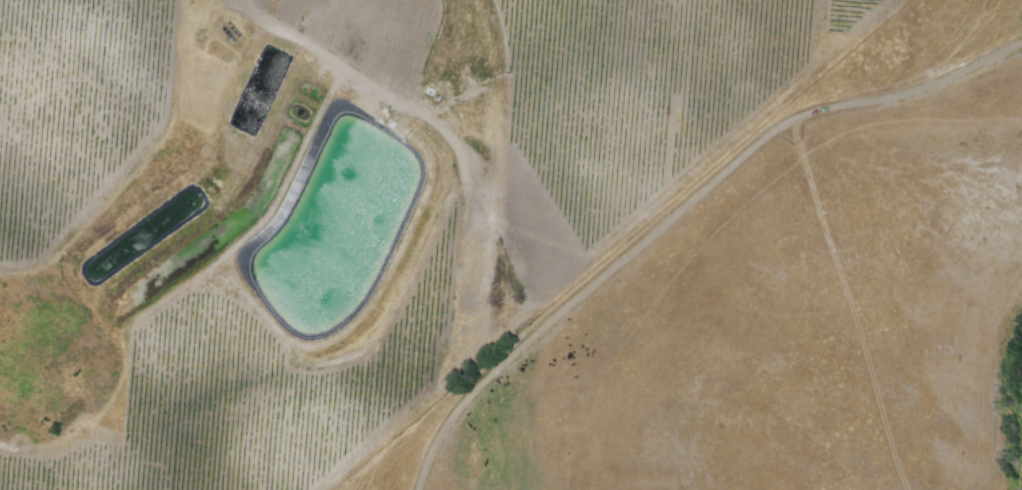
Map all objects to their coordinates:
road: (682, 212)

